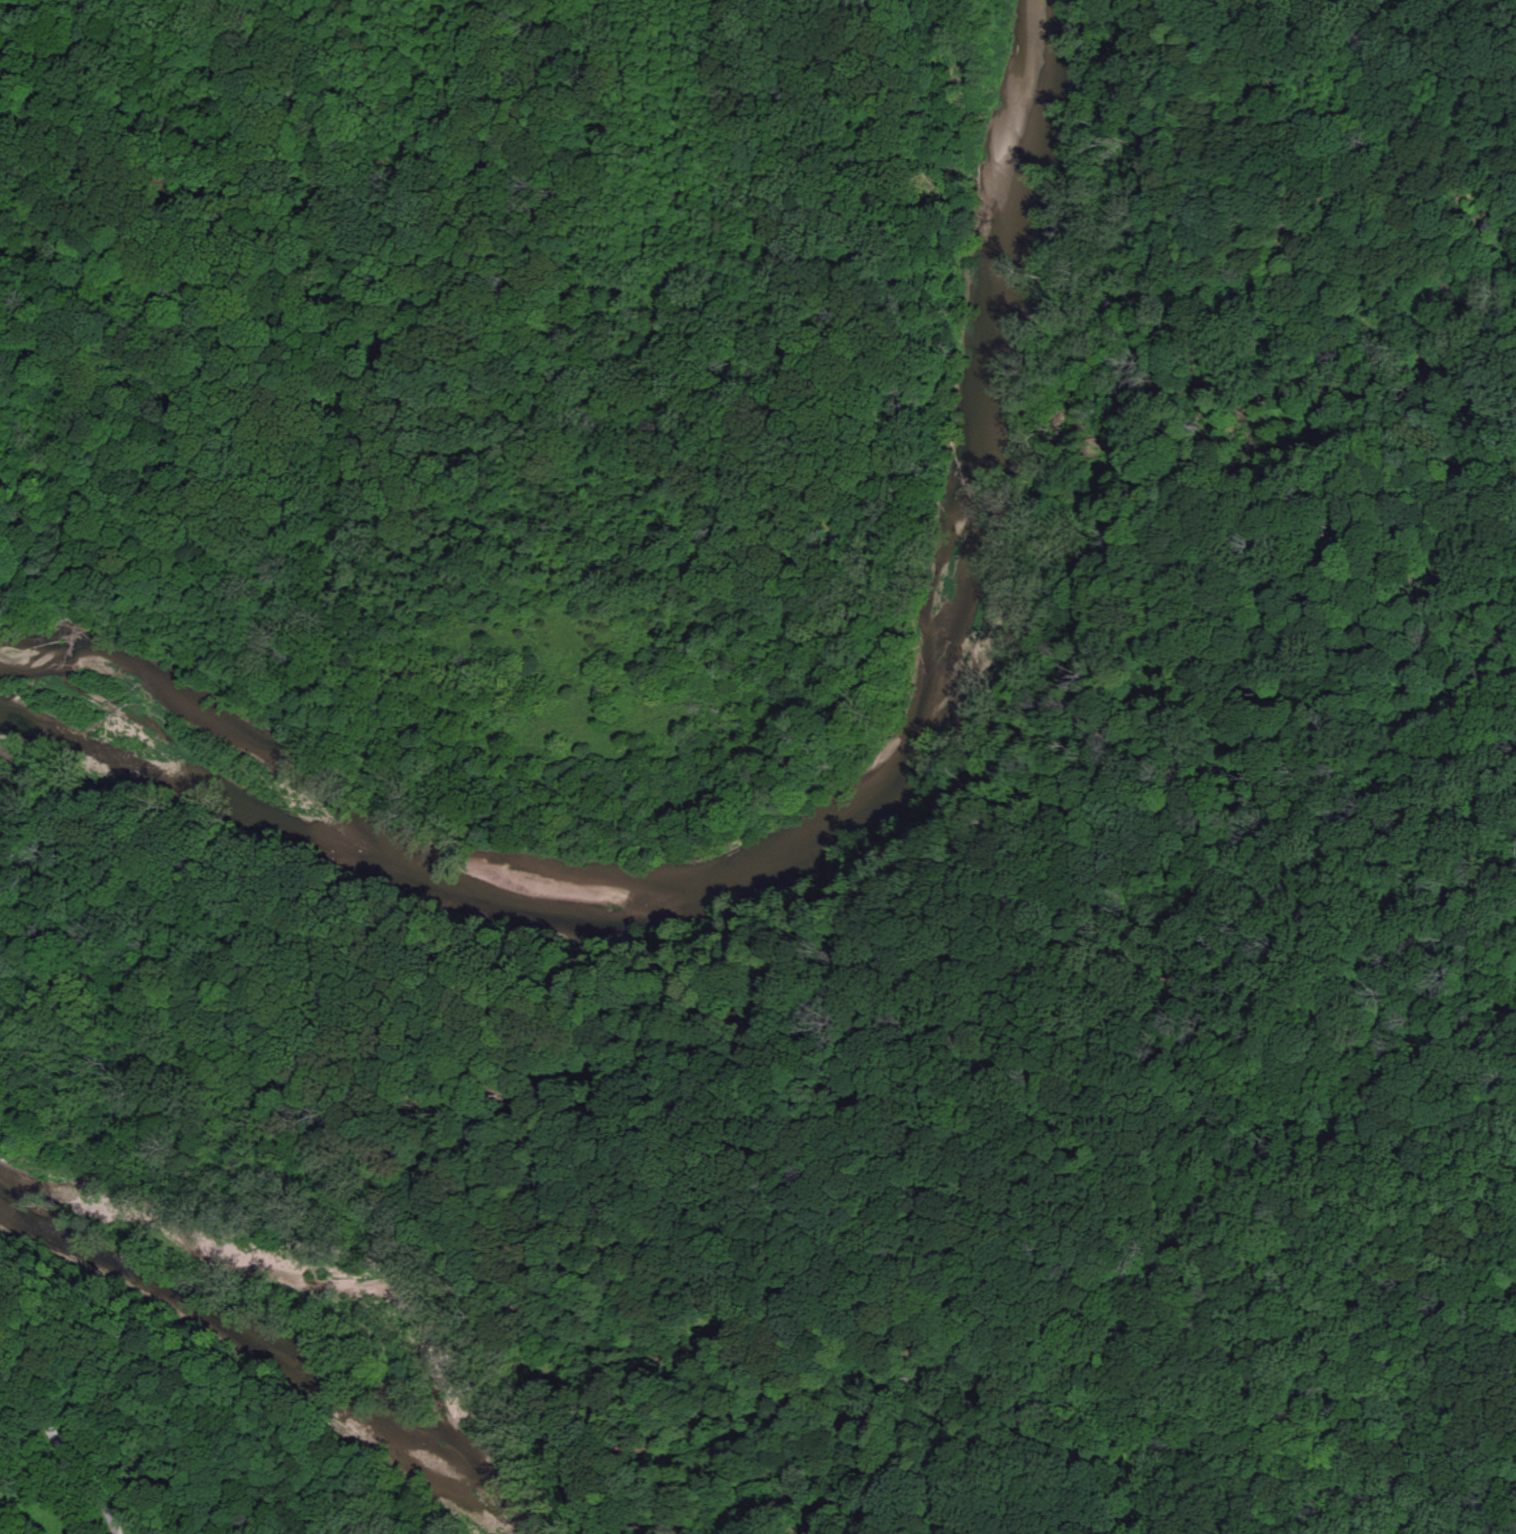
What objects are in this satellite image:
river: (833, 838)
river: (320, 1284)
road: (63, 1452)

